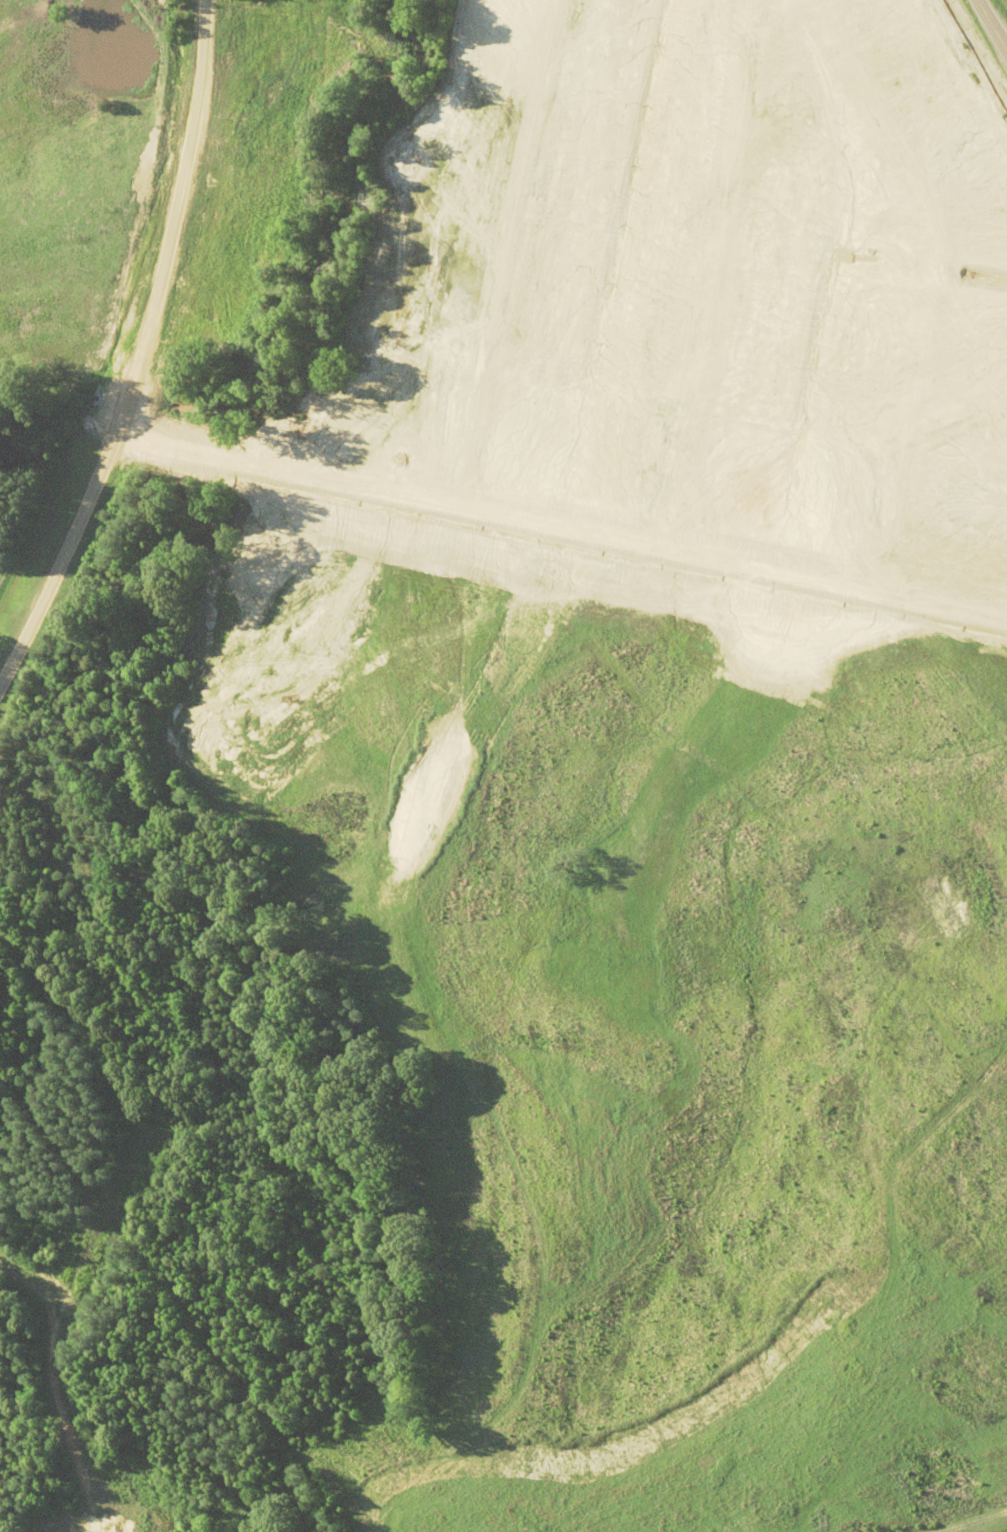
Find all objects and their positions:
road: (990, 28)
road: (511, 251)
road: (718, 263)
road: (939, 278)
road: (142, 350)
road: (962, 388)
road: (561, 521)

